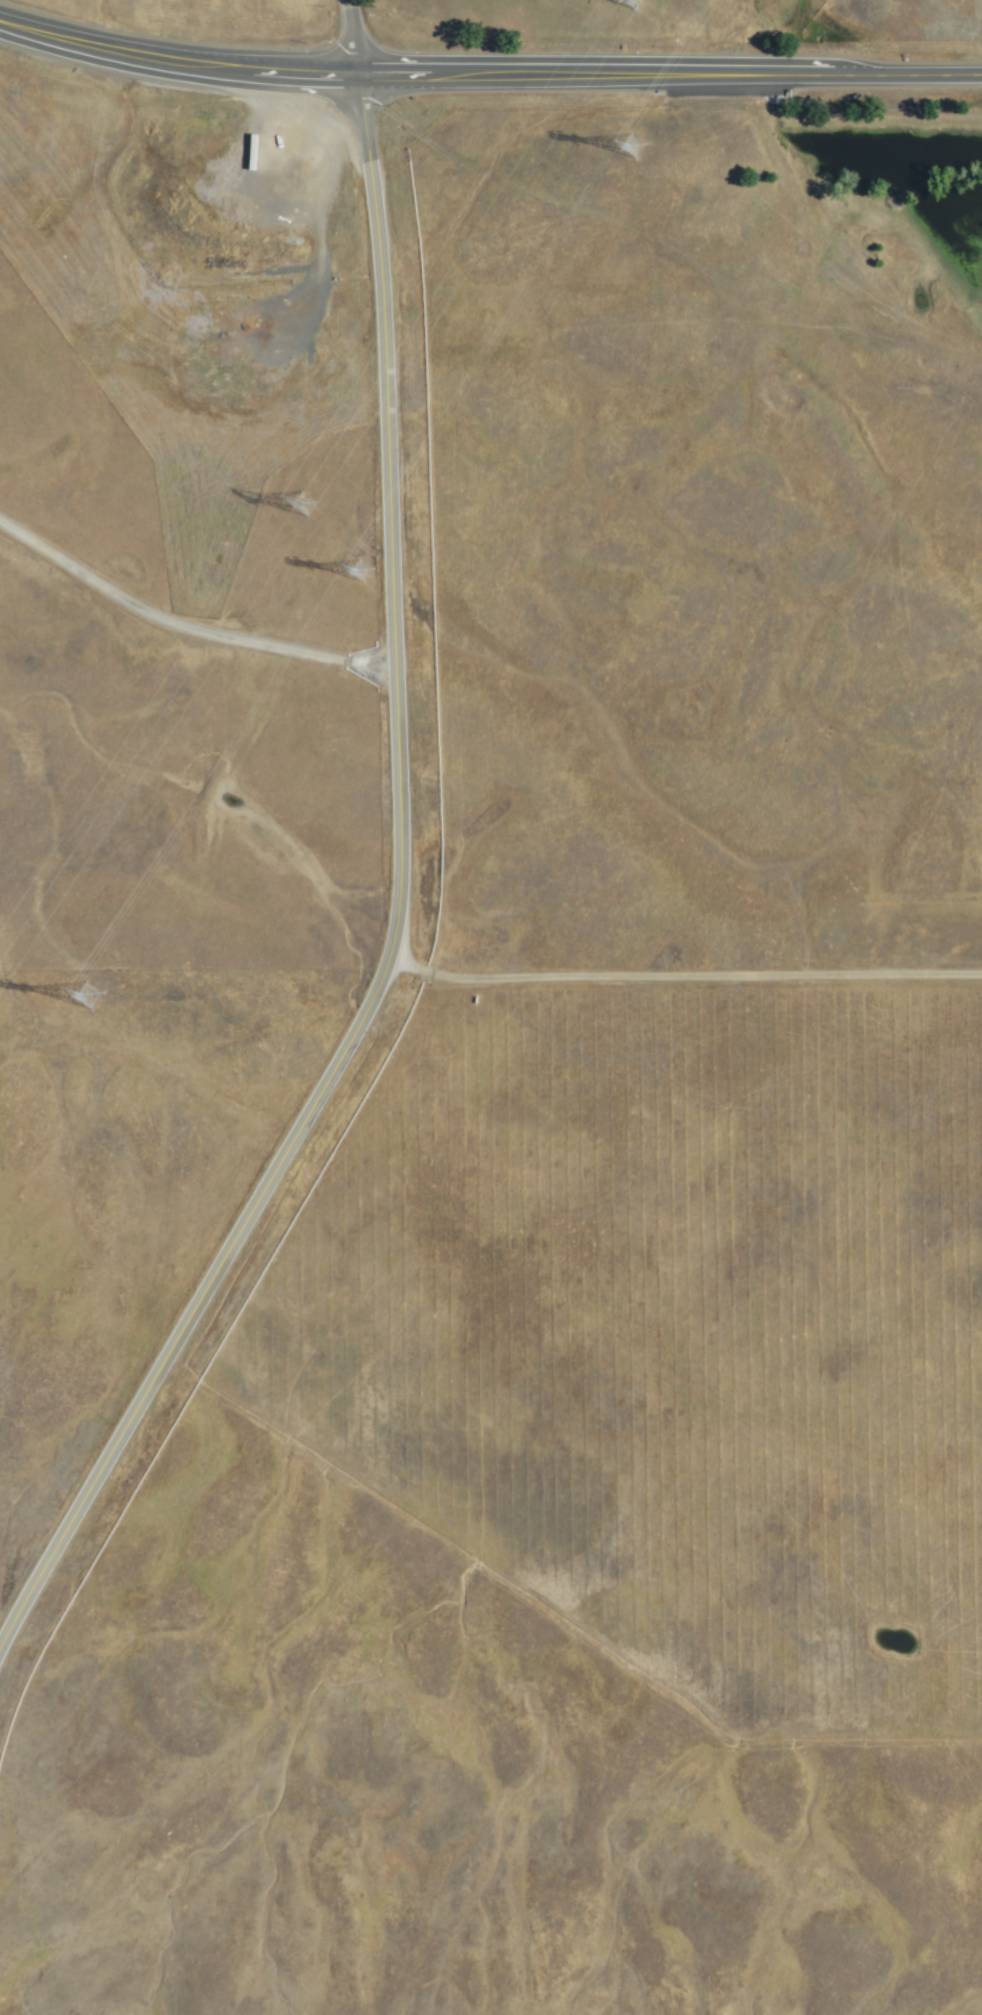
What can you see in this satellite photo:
road: (349, 39)
road: (175, 67)
road: (668, 77)
power tower: (632, 154)
power tower: (299, 503)
power tower: (358, 570)
road: (183, 625)
road: (395, 909)
power tower: (88, 994)

